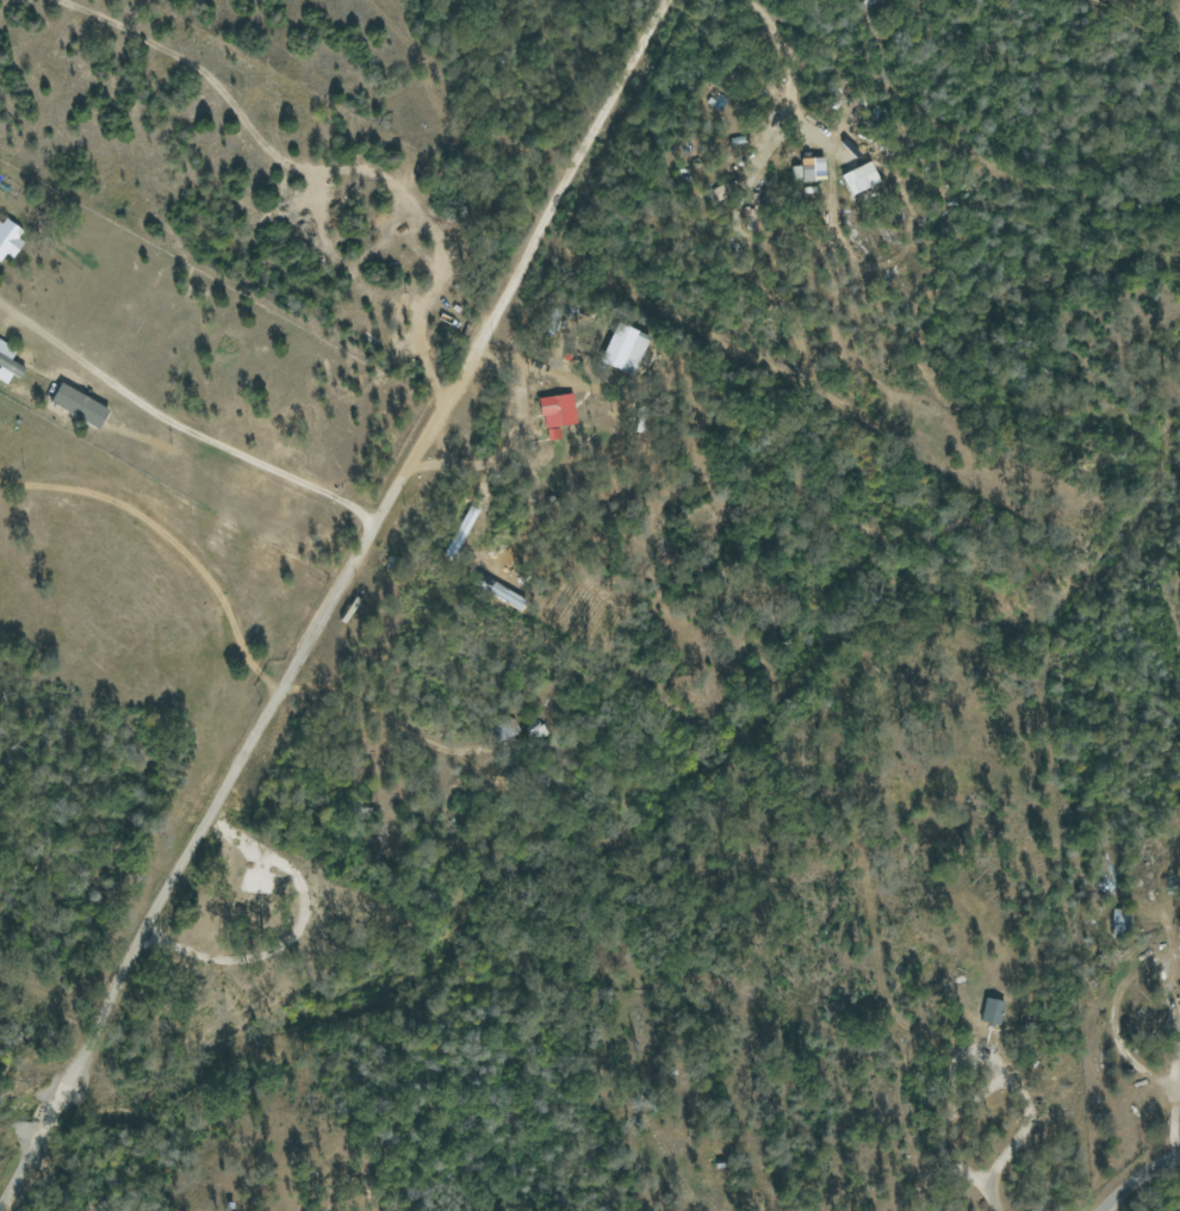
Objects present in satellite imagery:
road: (328, 167)
building: (809, 170)
building: (861, 179)
building: (721, 191)
building: (10, 237)
building: (625, 349)
building: (8, 362)
building: (558, 414)
road: (184, 423)
road: (514, 437)
road: (169, 546)
building: (509, 597)
road: (333, 605)
road: (383, 714)
building: (504, 728)
building: (534, 731)
road: (1161, 970)
building: (992, 1011)
road: (1021, 1126)
road: (1137, 1179)

